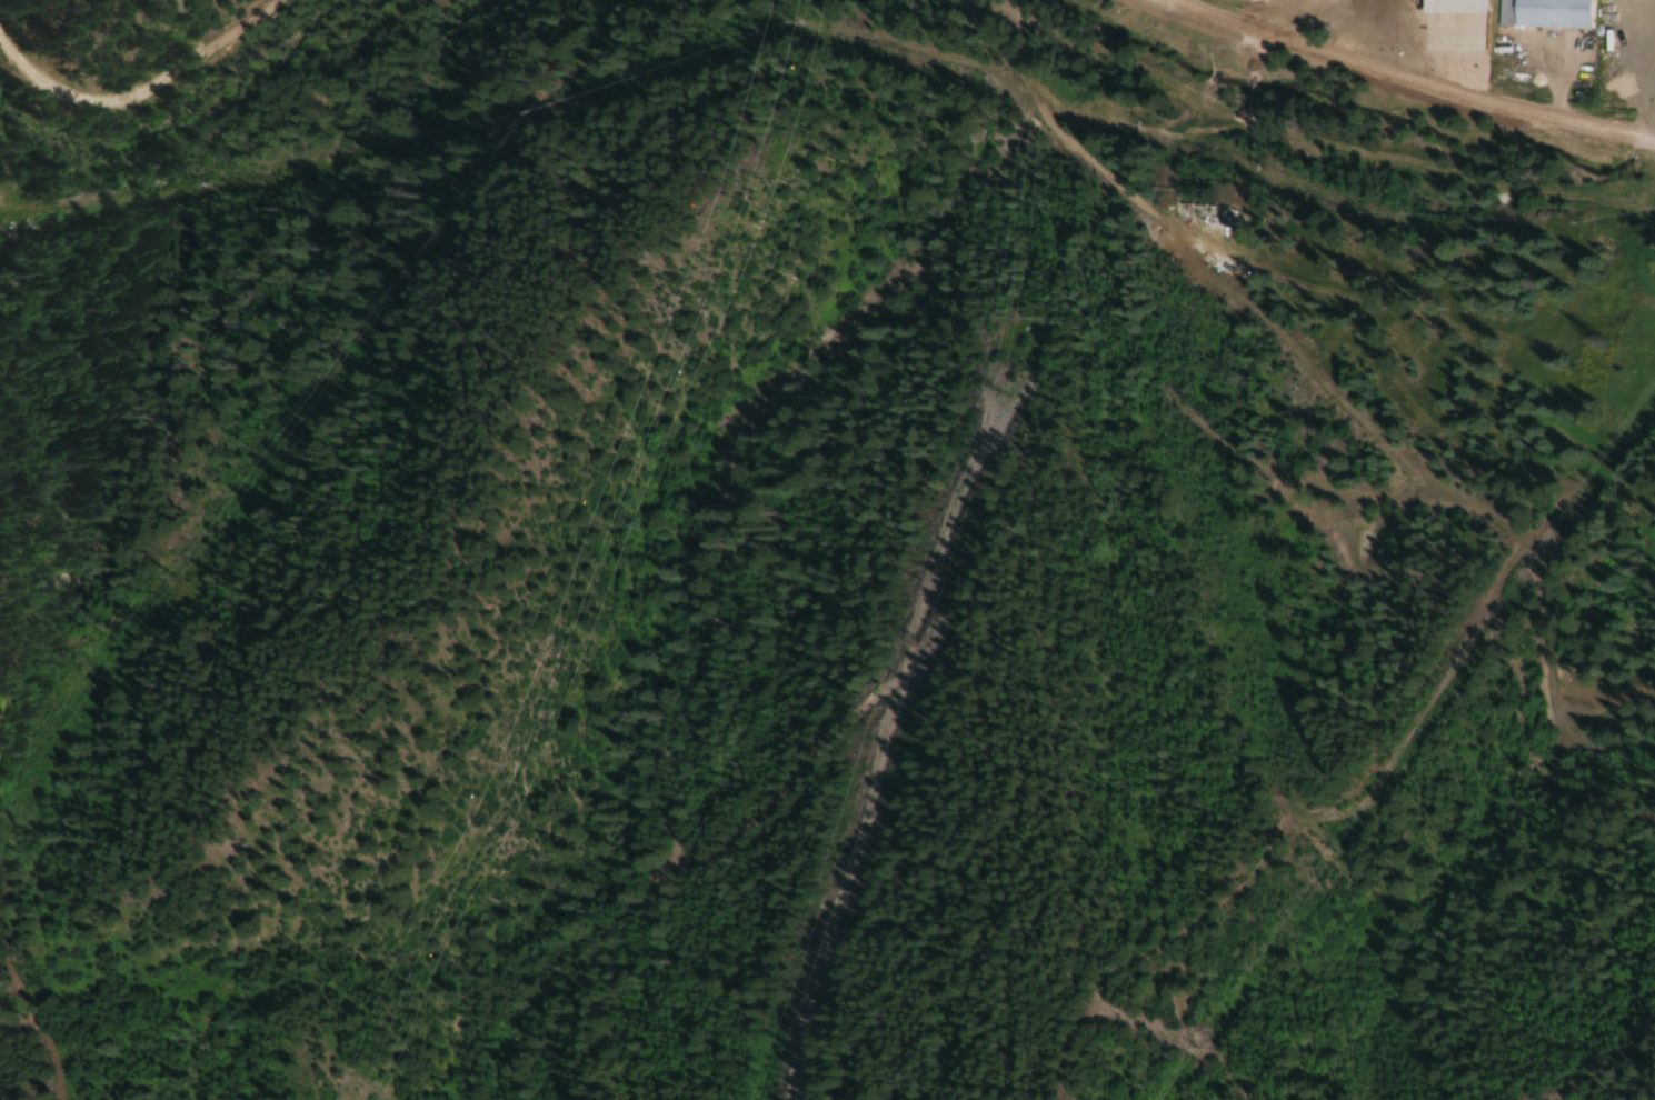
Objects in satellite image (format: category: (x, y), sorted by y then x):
building: (1447, 7)
building: (1542, 13)
road: (1403, 80)
road: (143, 104)

